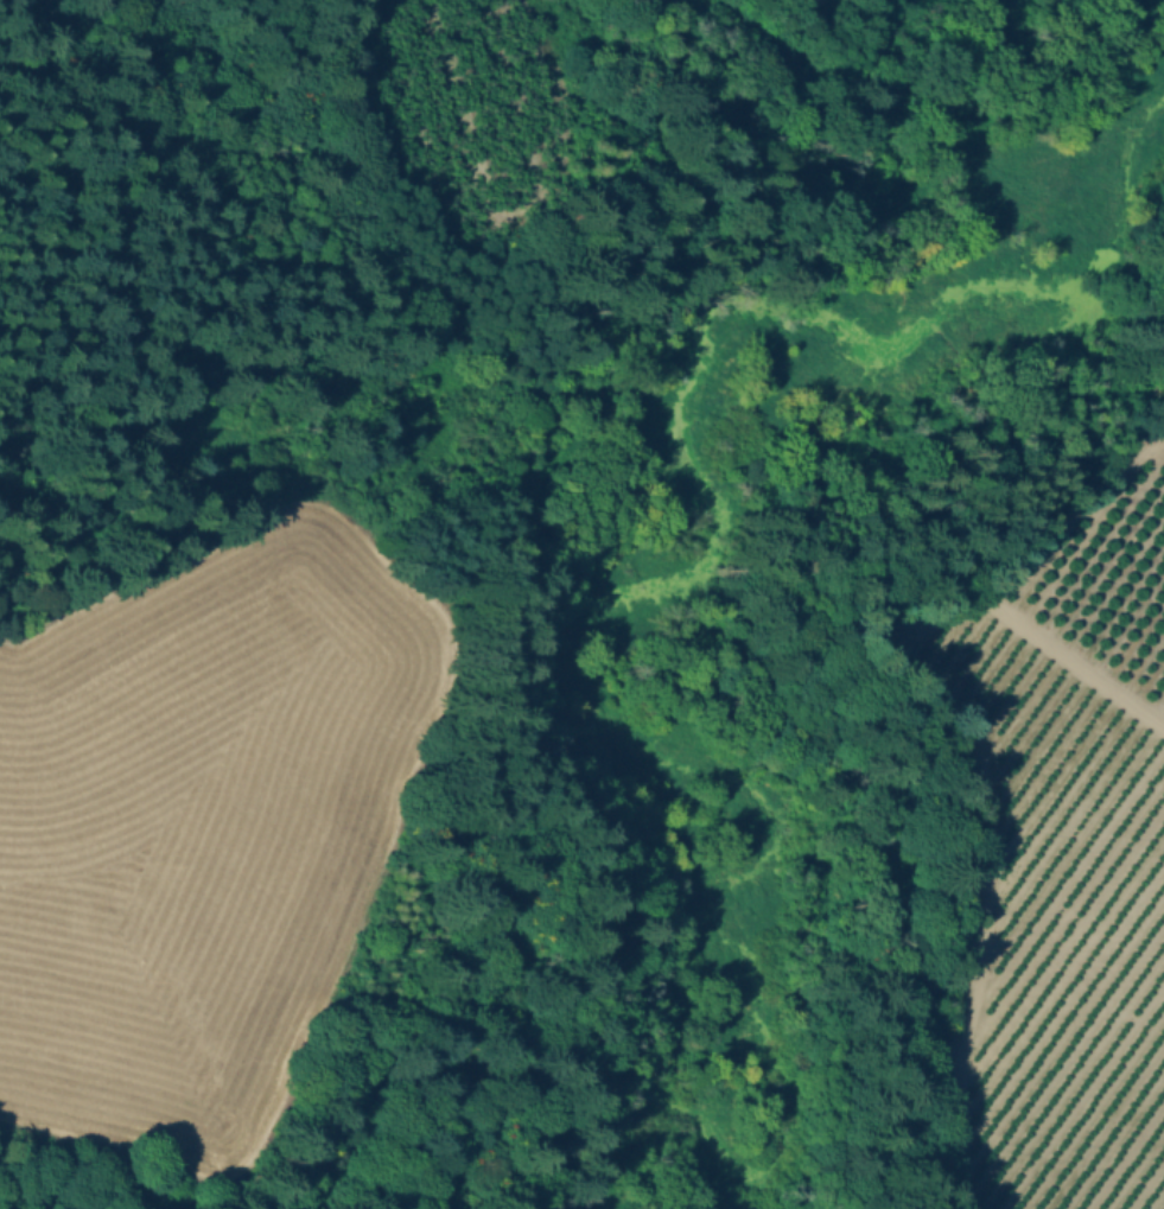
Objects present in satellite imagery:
road: (1089, 667)
crop: (179, 828)
crop: (1054, 931)

